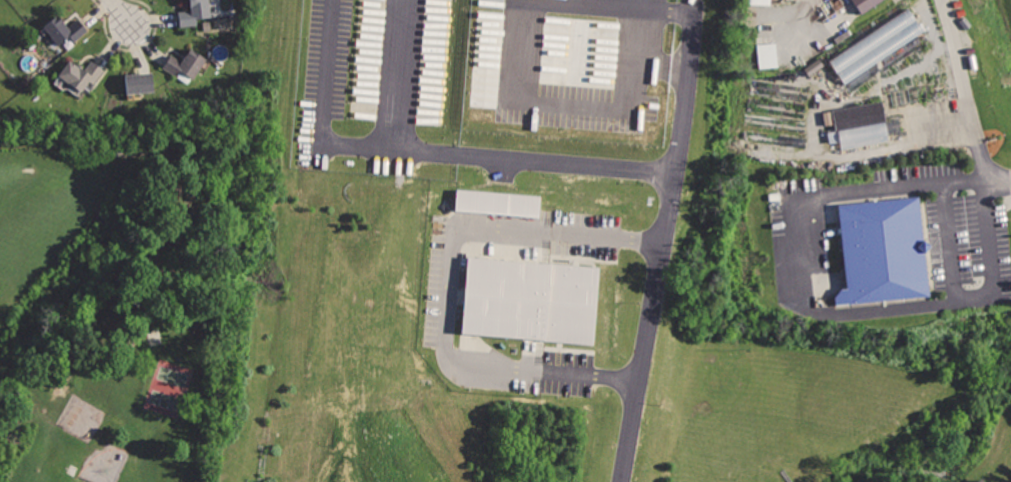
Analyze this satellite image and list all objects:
building: (864, 4)
road: (612, 5)
road: (120, 13)
building: (195, 13)
road: (686, 13)
building: (65, 31)
building: (876, 45)
building: (766, 55)
building: (185, 64)
building: (813, 66)
road: (651, 67)
road: (681, 70)
road: (399, 73)
building: (82, 74)
building: (139, 83)
road: (966, 88)
road: (574, 104)
building: (861, 126)
road: (324, 137)
road: (652, 169)
road: (995, 177)
road: (949, 241)
building: (882, 255)
building: (528, 273)
road: (449, 279)
park: (109, 303)
road: (809, 310)
road: (646, 326)
park: (169, 388)
park: (741, 403)
road: (787, 475)

